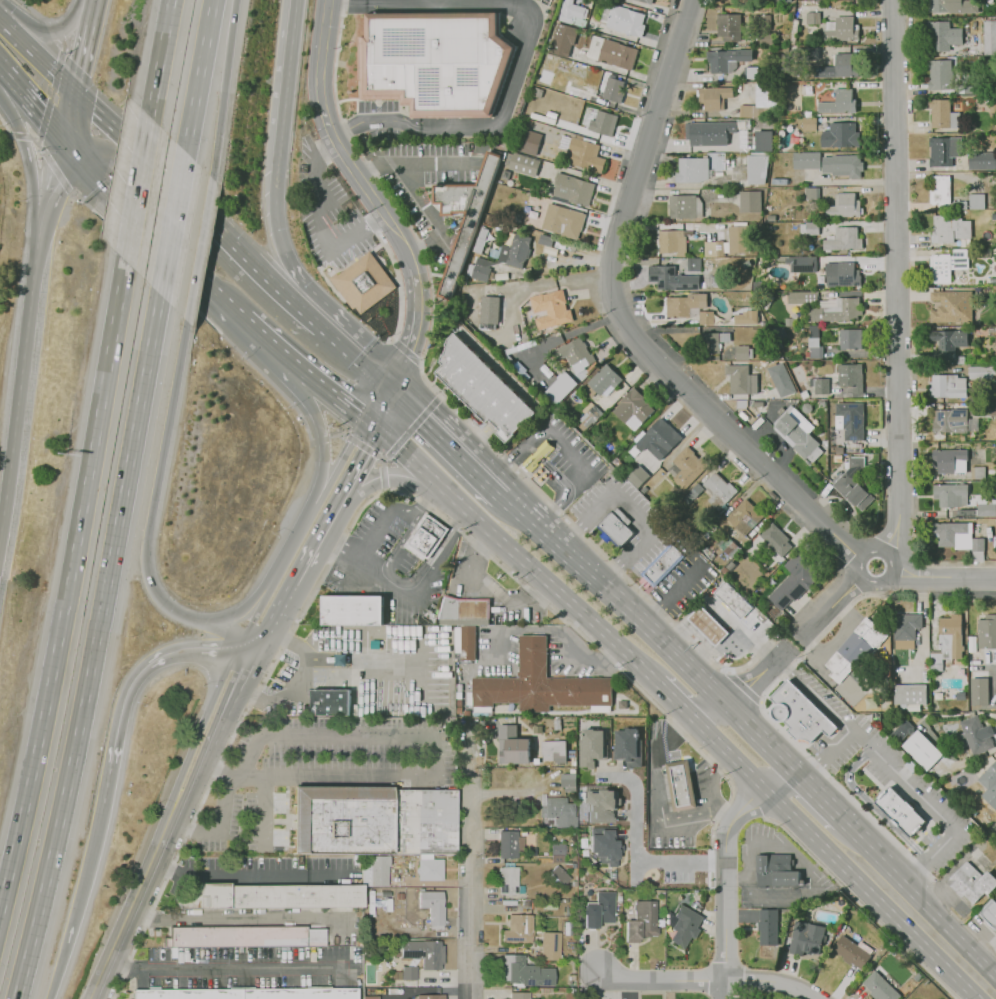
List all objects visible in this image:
building: (646, 1)
building: (784, 1)
building: (843, 4)
building: (954, 6)
road: (655, 8)
road: (31, 12)
road: (91, 12)
building: (574, 15)
building: (813, 18)
building: (625, 20)
building: (762, 22)
road: (3, 24)
building: (729, 26)
road: (55, 30)
building: (842, 30)
road: (47, 31)
building: (794, 32)
building: (565, 35)
building: (943, 36)
building: (990, 37)
building: (766, 38)
road: (636, 39)
road: (63, 46)
road: (523, 49)
building: (612, 53)
road: (159, 58)
road: (82, 59)
building: (436, 59)
building: (727, 60)
road: (321, 65)
building: (839, 68)
road: (4, 71)
road: (57, 71)
building: (751, 72)
road: (198, 75)
building: (940, 75)
road: (64, 82)
road: (16, 84)
road: (284, 86)
road: (222, 88)
building: (614, 90)
traffic signals: (75, 93)
building: (578, 93)
road: (51, 95)
building: (715, 97)
building: (763, 102)
building: (839, 102)
building: (993, 104)
building: (943, 114)
road: (43, 115)
road: (70, 116)
road: (44, 119)
building: (603, 123)
building: (810, 124)
road: (5, 126)
building: (709, 133)
road: (19, 136)
building: (841, 136)
road: (93, 138)
traffic signals: (65, 139)
building: (763, 140)
road: (38, 141)
building: (528, 141)
road: (35, 142)
road: (24, 145)
building: (944, 151)
building: (584, 154)
building: (807, 160)
building: (982, 161)
road: (414, 163)
building: (523, 164)
building: (843, 165)
building: (757, 168)
road: (55, 170)
building: (692, 170)
road: (53, 177)
parking lot: (426, 184)
road: (136, 189)
building: (573, 189)
road: (384, 190)
building: (940, 191)
building: (812, 194)
road: (372, 198)
building: (749, 201)
building: (971, 203)
building: (684, 206)
building: (844, 206)
road: (64, 209)
parking lot: (331, 212)
road: (432, 216)
building: (464, 217)
building: (994, 217)
road: (208, 221)
building: (563, 221)
road: (137, 222)
road: (172, 223)
road: (319, 223)
building: (809, 228)
building: (949, 229)
road: (38, 232)
road: (278, 240)
building: (545, 240)
building: (843, 240)
building: (673, 242)
building: (730, 242)
building: (478, 245)
road: (198, 249)
building: (761, 250)
building: (502, 257)
building: (746, 263)
building: (693, 264)
building: (802, 264)
building: (947, 265)
building: (842, 274)
road: (398, 276)
building: (672, 278)
building: (363, 282)
road: (896, 287)
building: (803, 298)
building: (766, 300)
building: (952, 306)
building: (689, 308)
building: (551, 309)
road: (196, 311)
building: (837, 311)
building: (489, 312)
road: (308, 316)
building: (744, 317)
road: (414, 329)
building: (814, 331)
building: (991, 331)
building: (778, 332)
road: (262, 337)
building: (725, 337)
building: (851, 339)
building: (949, 341)
building: (711, 343)
road: (405, 350)
building: (816, 352)
building: (743, 353)
building: (764, 353)
building: (574, 354)
road: (356, 357)
building: (960, 359)
road: (674, 371)
building: (982, 372)
building: (851, 377)
building: (742, 379)
building: (602, 382)
building: (486, 384)
building: (820, 385)
building: (947, 386)
road: (18, 387)
traffic signals: (390, 387)
building: (560, 388)
building: (803, 391)
road: (335, 396)
road: (377, 403)
building: (822, 403)
road: (384, 408)
building: (806, 408)
building: (633, 409)
building: (983, 409)
building: (792, 415)
building: (588, 418)
traffic signals: (365, 419)
building: (850, 420)
building: (950, 421)
road: (371, 424)
road: (414, 424)
traffic signals: (378, 430)
road: (337, 434)
road: (320, 438)
road: (318, 439)
building: (658, 439)
road: (447, 440)
road: (361, 446)
building: (838, 450)
road: (571, 452)
building: (537, 456)
road: (380, 458)
building: (838, 458)
road: (409, 460)
road: (340, 461)
road: (383, 461)
road: (508, 461)
building: (949, 461)
road: (359, 463)
building: (617, 464)
road: (551, 467)
building: (686, 467)
building: (612, 470)
building: (978, 473)
building: (638, 476)
road: (382, 478)
road: (389, 480)
building: (853, 485)
road: (155, 486)
road: (596, 489)
building: (643, 489)
building: (718, 491)
building: (693, 493)
building: (951, 494)
parking lot: (604, 497)
building: (986, 506)
road: (417, 509)
road: (635, 510)
road: (552, 511)
building: (744, 517)
road: (529, 518)
building: (617, 527)
road: (344, 534)
road: (374, 535)
building: (427, 536)
building: (959, 538)
building: (776, 539)
road: (316, 540)
road: (601, 540)
road: (339, 545)
building: (729, 547)
road: (599, 549)
road: (440, 555)
road: (474, 558)
road: (577, 563)
building: (660, 566)
building: (724, 570)
road: (351, 571)
road: (277, 573)
building: (795, 580)
road: (381, 582)
road: (404, 582)
parking lot: (683, 583)
road: (67, 587)
road: (546, 587)
road: (672, 593)
road: (839, 596)
building: (733, 600)
road: (243, 605)
road: (718, 607)
building: (465, 608)
building: (353, 610)
road: (840, 616)
road: (274, 617)
building: (708, 626)
gas station: (708, 626)
road: (644, 627)
building: (906, 630)
road: (544, 631)
road: (221, 632)
building: (987, 632)
road: (801, 636)
building: (948, 642)
building: (468, 643)
road: (247, 646)
road: (93, 648)
road: (719, 649)
building: (855, 649)
road: (786, 650)
parking lot: (496, 651)
parking lot: (573, 656)
road: (361, 660)
road: (143, 667)
road: (728, 672)
road: (752, 682)
road: (301, 684)
building: (541, 684)
road: (708, 688)
road: (743, 689)
building: (980, 691)
building: (909, 695)
road: (671, 699)
building: (330, 702)
road: (709, 711)
building: (799, 713)
building: (901, 731)
building: (976, 735)
road: (217, 738)
road: (662, 741)
road: (764, 744)
building: (592, 747)
building: (627, 747)
building: (528, 750)
building: (922, 750)
road: (728, 751)
road: (188, 755)
road: (826, 756)
road: (715, 762)
parking lot: (312, 770)
parking lot: (887, 770)
road: (892, 770)
road: (428, 776)
road: (680, 776)
building: (989, 777)
road: (107, 778)
building: (568, 779)
road: (682, 783)
road: (784, 784)
building: (683, 786)
road: (659, 790)
road: (685, 791)
road: (500, 792)
road: (710, 793)
road: (750, 795)
building: (995, 795)
road: (224, 798)
road: (820, 802)
building: (601, 805)
road: (859, 807)
road: (872, 807)
building: (558, 811)
building: (899, 811)
road: (263, 812)
road: (688, 815)
building: (372, 820)
road: (918, 833)
road: (919, 837)
parking lot: (670, 838)
building: (509, 843)
road: (861, 843)
road: (632, 846)
building: (603, 847)
road: (164, 850)
road: (471, 861)
building: (430, 868)
building: (376, 870)
building: (775, 870)
road: (252, 873)
building: (558, 874)
building: (509, 879)
road: (722, 883)
building: (971, 883)
road: (873, 893)
road: (138, 895)
building: (271, 896)
road: (79, 898)
road: (862, 904)
building: (433, 906)
road: (499, 906)
building: (598, 908)
building: (989, 913)
road: (247, 916)
building: (643, 918)
road: (939, 919)
building: (686, 924)
building: (769, 925)
building: (518, 928)
building: (246, 936)
building: (807, 936)
building: (551, 944)
building: (852, 950)
building: (424, 951)
road: (110, 957)
road: (230, 967)
building: (525, 971)
building: (409, 972)
road: (446, 977)
road: (714, 980)
building: (880, 986)
road: (419, 990)
building: (246, 993)
road: (400, 994)
road: (490, 994)
building: (520, 994)
building: (370, 996)
building: (430, 996)

